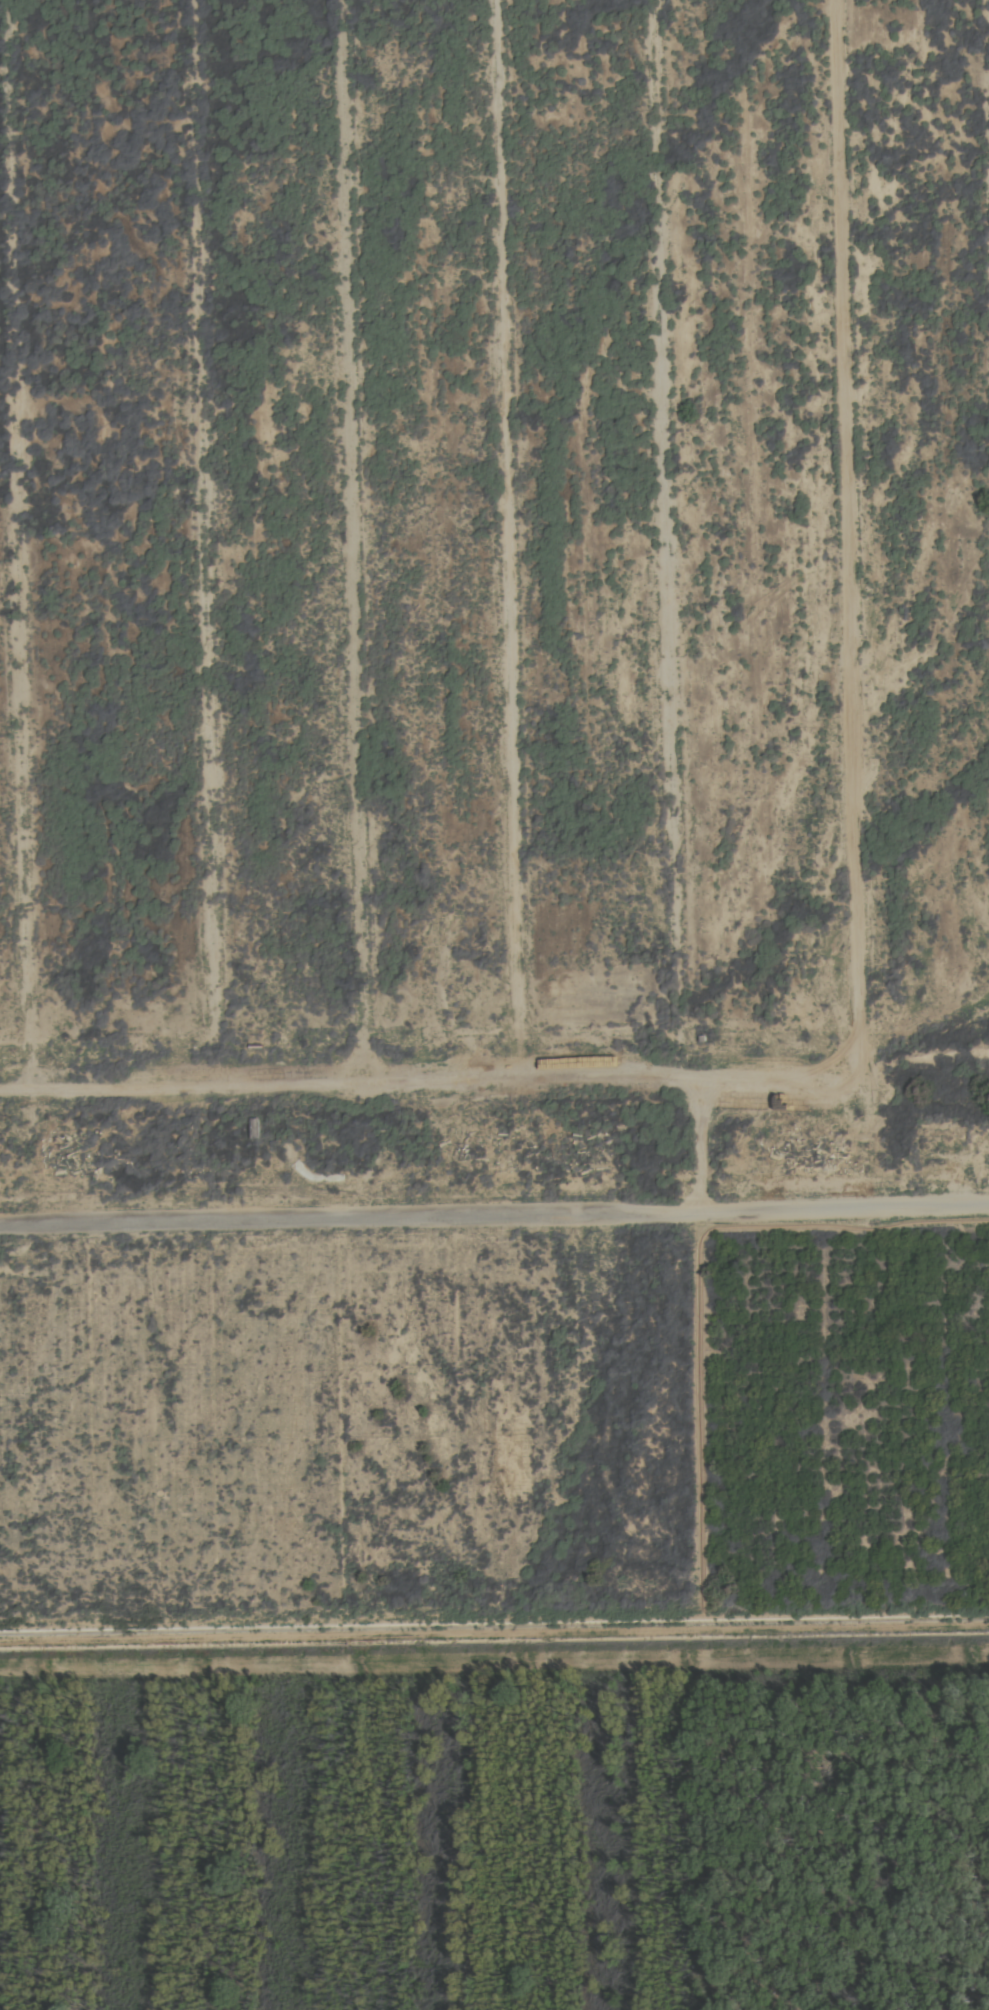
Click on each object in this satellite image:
road: (494, 1203)

